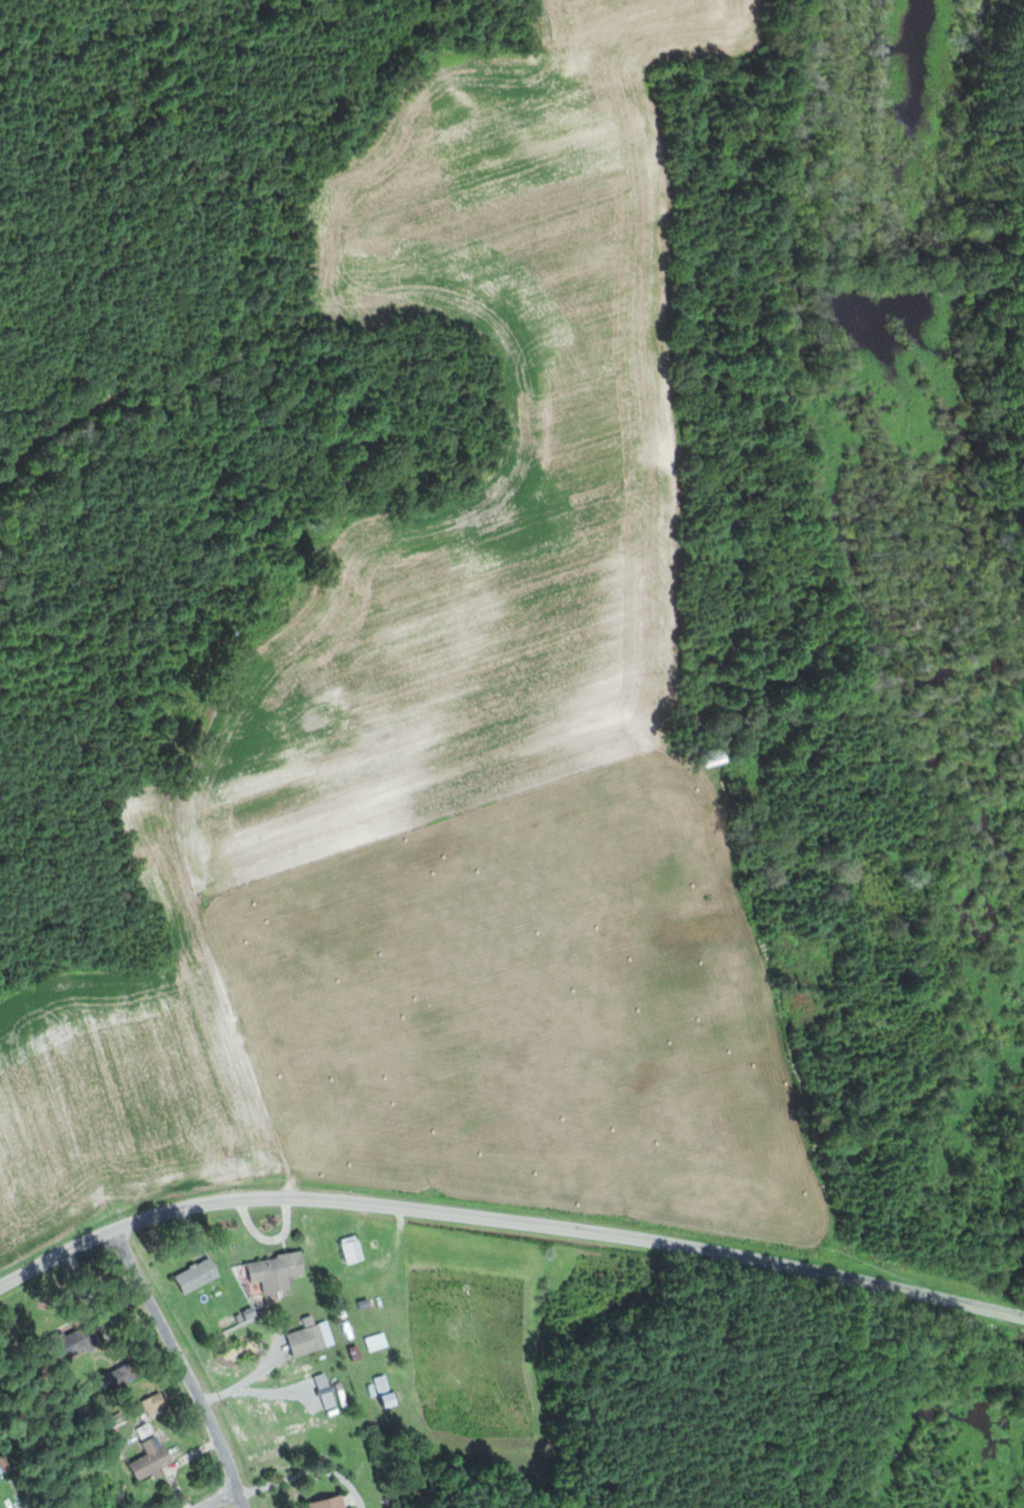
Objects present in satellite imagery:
building: (205, 662)
building: (314, 714)
road: (193, 923)
road: (506, 1220)
road: (266, 1239)
building: (354, 1250)
building: (277, 1273)
building: (199, 1275)
building: (376, 1305)
building: (313, 1337)
building: (84, 1339)
road: (183, 1366)
building: (121, 1378)
building: (387, 1392)
building: (153, 1459)
building: (3, 1466)
road: (306, 1472)
building: (0, 1483)
road: (222, 1499)
building: (332, 1503)

